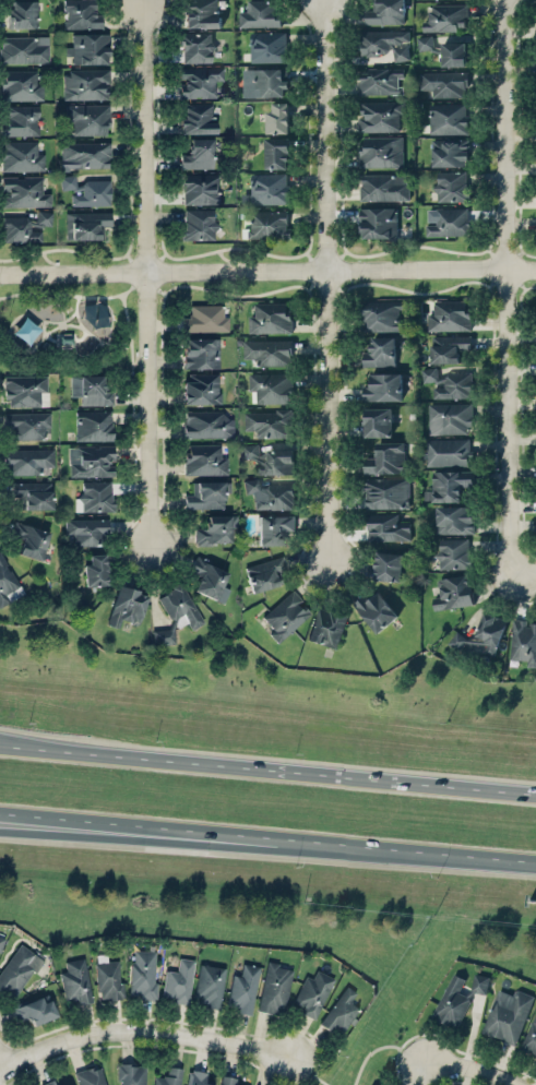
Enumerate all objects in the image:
building: (385, 12)
building: (22, 13)
building: (261, 13)
building: (81, 14)
building: (202, 14)
building: (446, 16)
building: (425, 41)
building: (385, 43)
building: (267, 46)
building: (196, 47)
building: (88, 48)
building: (23, 49)
building: (453, 52)
building: (380, 80)
building: (264, 81)
building: (199, 82)
building: (444, 82)
building: (86, 84)
building: (20, 85)
building: (380, 116)
building: (277, 117)
building: (448, 118)
building: (88, 119)
building: (198, 119)
building: (20, 121)
building: (381, 151)
building: (276, 152)
building: (450, 152)
building: (198, 154)
building: (84, 155)
building: (21, 156)
building: (384, 186)
building: (452, 186)
building: (200, 188)
building: (266, 188)
building: (86, 191)
building: (23, 192)
building: (446, 220)
building: (379, 222)
building: (198, 224)
building: (269, 224)
building: (86, 225)
building: (25, 227)
road: (267, 269)
road: (147, 273)
road: (326, 281)
road: (507, 286)
building: (382, 313)
building: (450, 315)
building: (270, 317)
building: (94, 319)
building: (205, 319)
park: (68, 330)
building: (450, 348)
building: (269, 350)
building: (380, 350)
building: (201, 353)
building: (449, 382)
building: (271, 386)
building: (383, 386)
building: (201, 388)
building: (24, 390)
building: (91, 390)
building: (449, 417)
building: (378, 420)
building: (270, 422)
building: (206, 424)
building: (27, 425)
building: (94, 425)
building: (448, 451)
building: (385, 457)
building: (271, 458)
building: (204, 460)
building: (27, 461)
building: (93, 461)
building: (449, 484)
building: (386, 491)
building: (206, 494)
building: (270, 494)
building: (32, 496)
building: (95, 497)
building: (454, 518)
building: (388, 527)
building: (273, 528)
building: (215, 529)
building: (86, 530)
building: (29, 539)
building: (453, 552)
building: (388, 565)
building: (95, 570)
building: (266, 573)
road: (523, 573)
building: (210, 580)
building: (8, 583)
building: (453, 592)
building: (127, 606)
building: (179, 607)
building: (376, 610)
building: (285, 615)
building: (326, 628)
building: (163, 636)
building: (481, 636)
building: (523, 641)
road: (12, 742)
road: (12, 744)
road: (279, 767)
road: (139, 825)
road: (139, 836)
road: (407, 849)
building: (1, 941)
building: (19, 968)
building: (143, 975)
building: (108, 979)
building: (75, 981)
building: (178, 981)
building: (479, 982)
building: (210, 985)
building: (274, 988)
building: (242, 989)
building: (313, 993)
building: (452, 1002)
building: (34, 1010)
building: (340, 1012)
building: (508, 1014)
road: (175, 1022)
road: (142, 1032)
road: (436, 1034)
building: (531, 1036)
road: (143, 1044)
road: (1, 1068)
road: (469, 1069)
building: (130, 1074)
building: (88, 1076)
building: (168, 1076)
building: (196, 1077)
building: (226, 1080)
building: (47, 1083)
building: (69, 1084)
building: (372, 1084)

